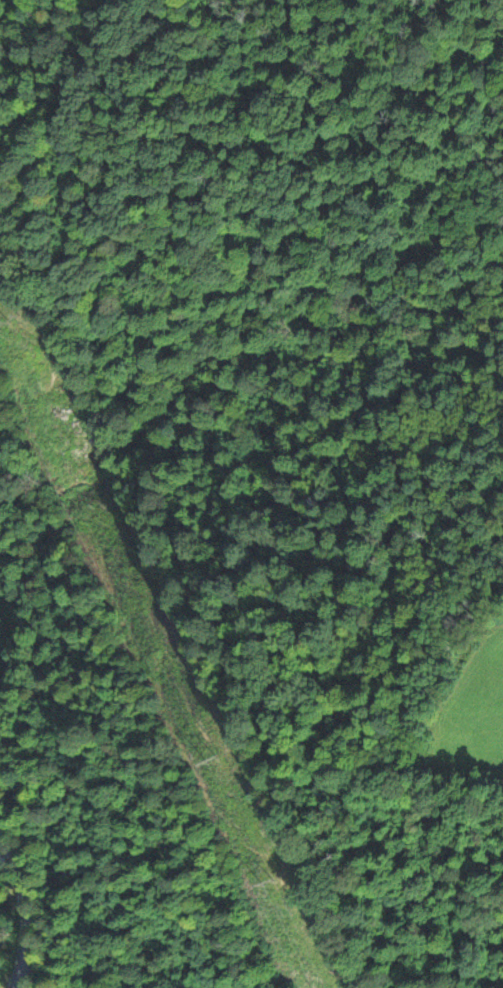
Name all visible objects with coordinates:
road: (22, 909)

